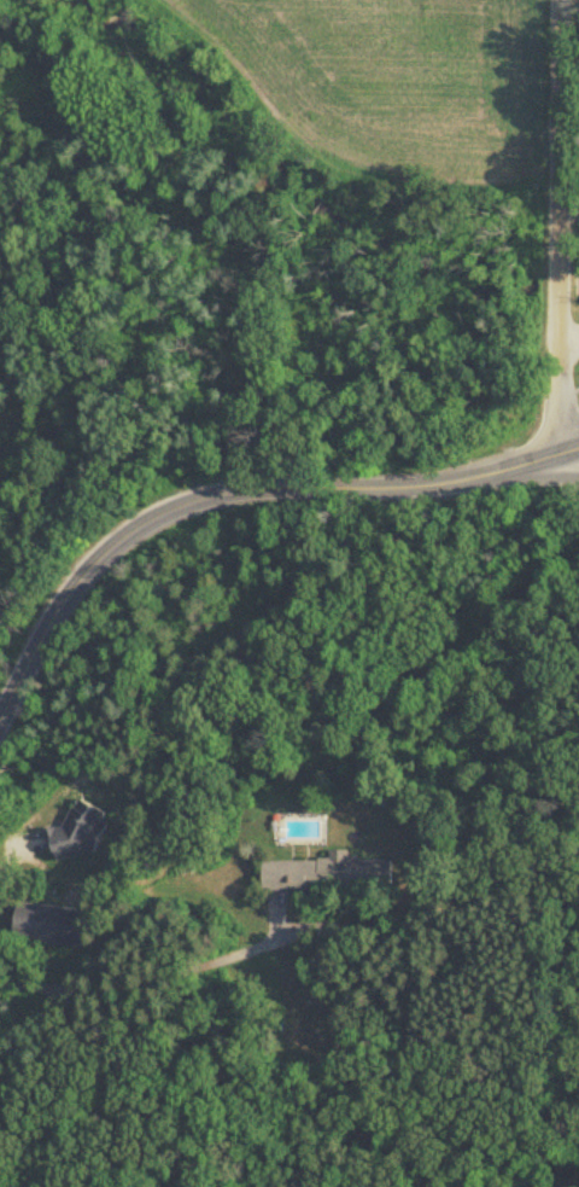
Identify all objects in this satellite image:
road: (568, 66)
road: (557, 129)
road: (557, 286)
road: (557, 386)
road: (568, 456)
road: (568, 462)
road: (226, 493)
building: (80, 832)
road: (18, 856)
building: (339, 861)
building: (289, 875)
building: (52, 925)
road: (148, 978)

